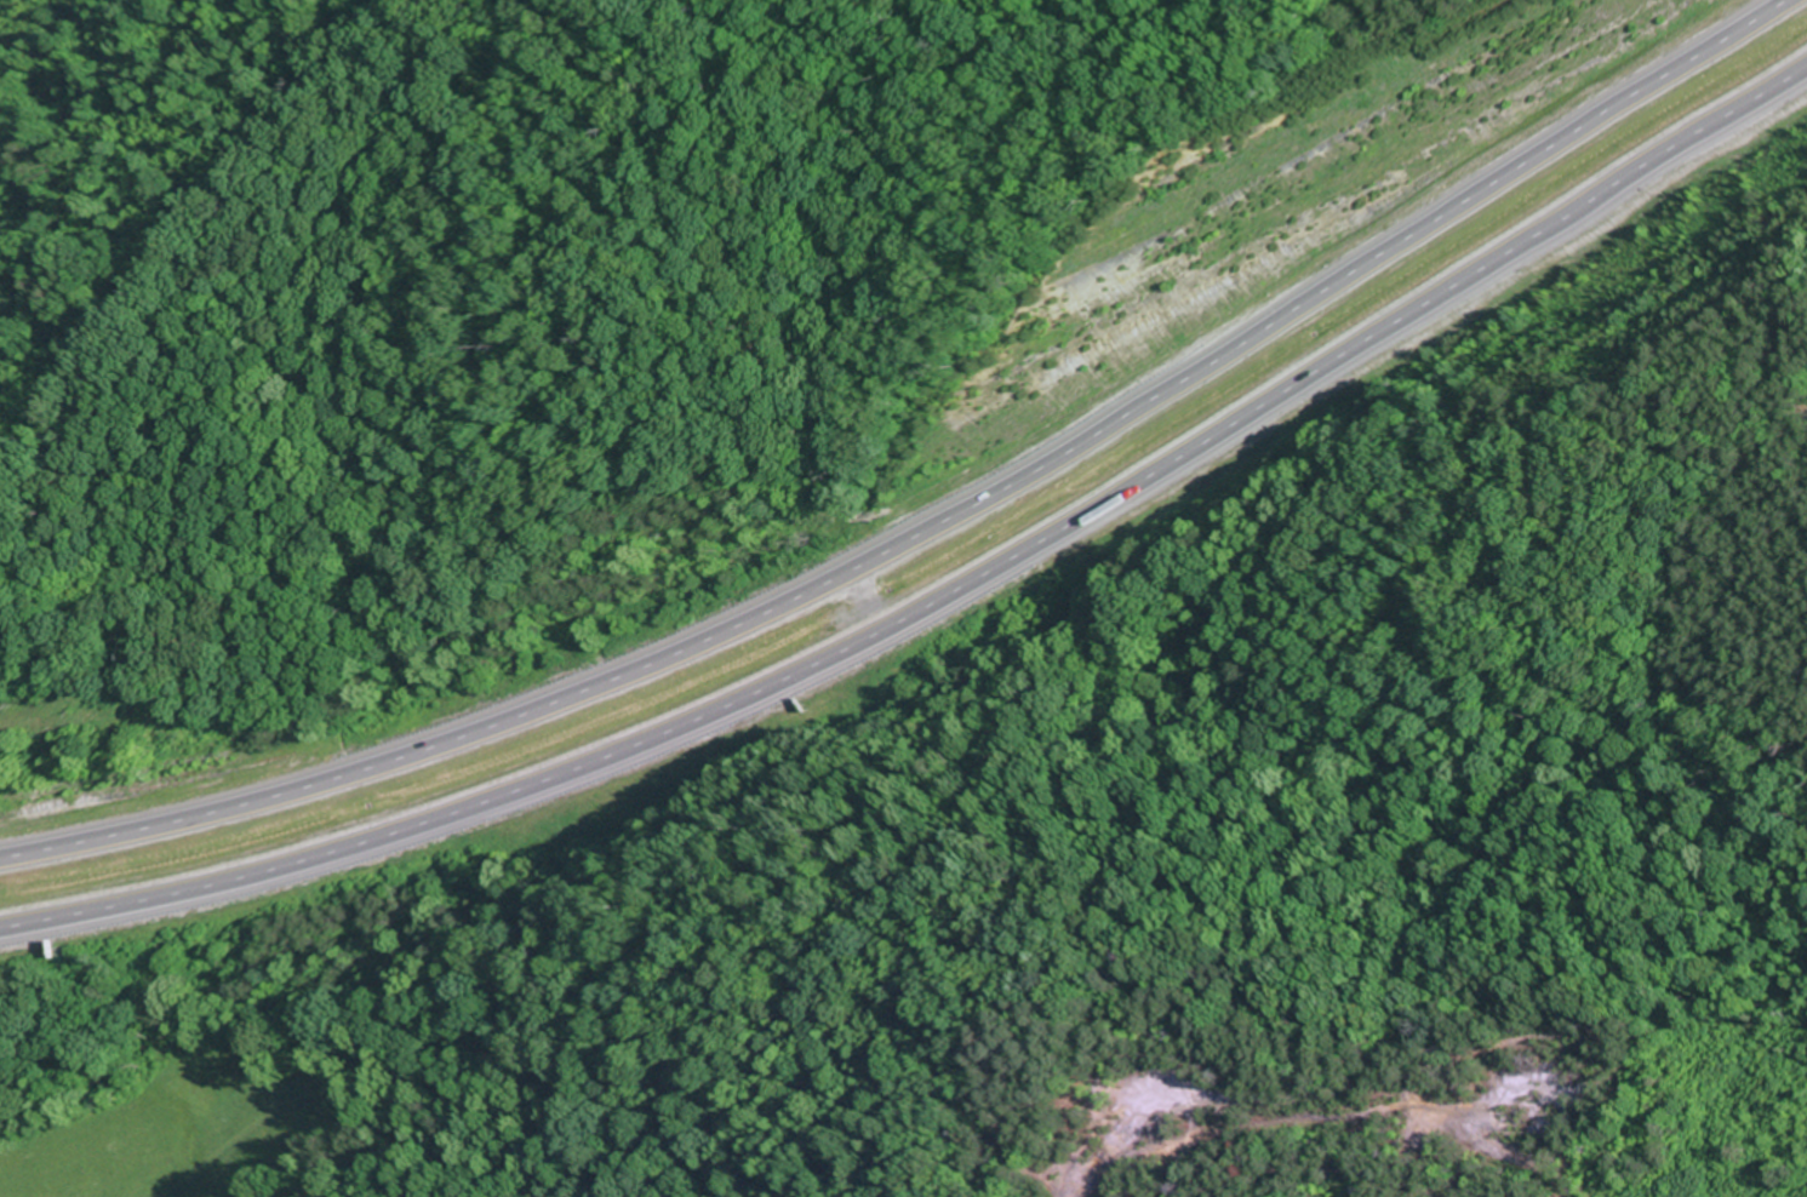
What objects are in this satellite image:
road: (1073, 173)
road: (932, 523)
road: (948, 601)

